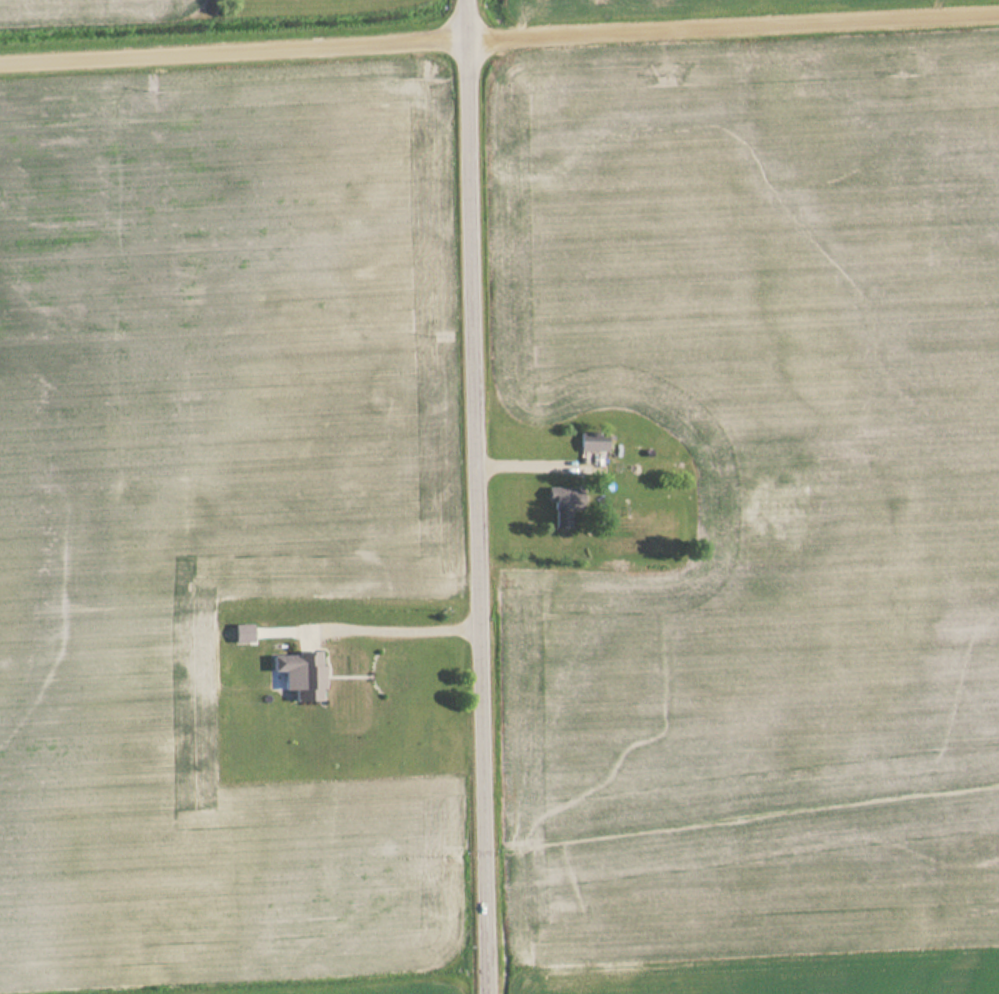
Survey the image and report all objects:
road: (499, 44)
building: (593, 440)
road: (478, 497)
building: (564, 502)
building: (299, 673)

